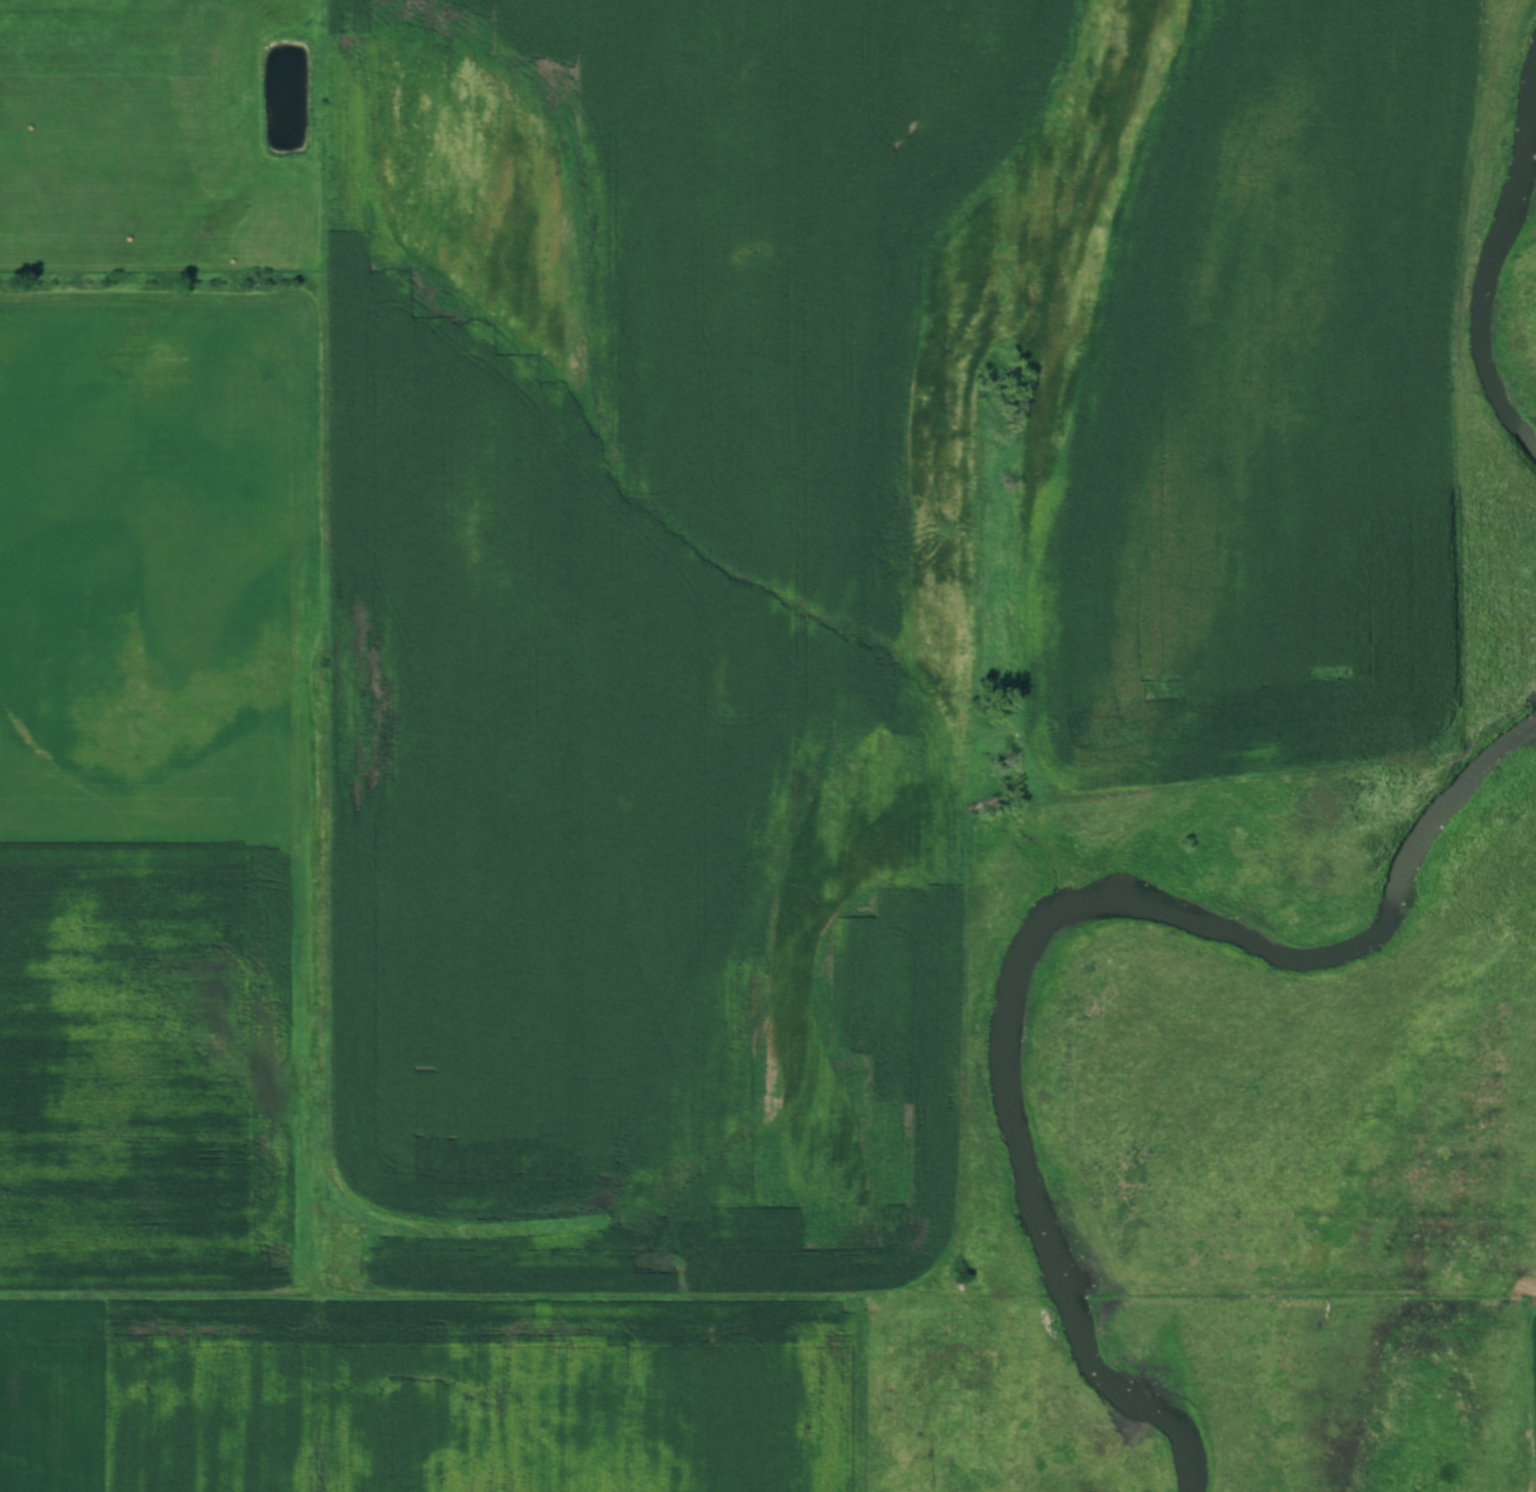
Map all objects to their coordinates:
road: (153, 289)
crop: (1535, 1311)

